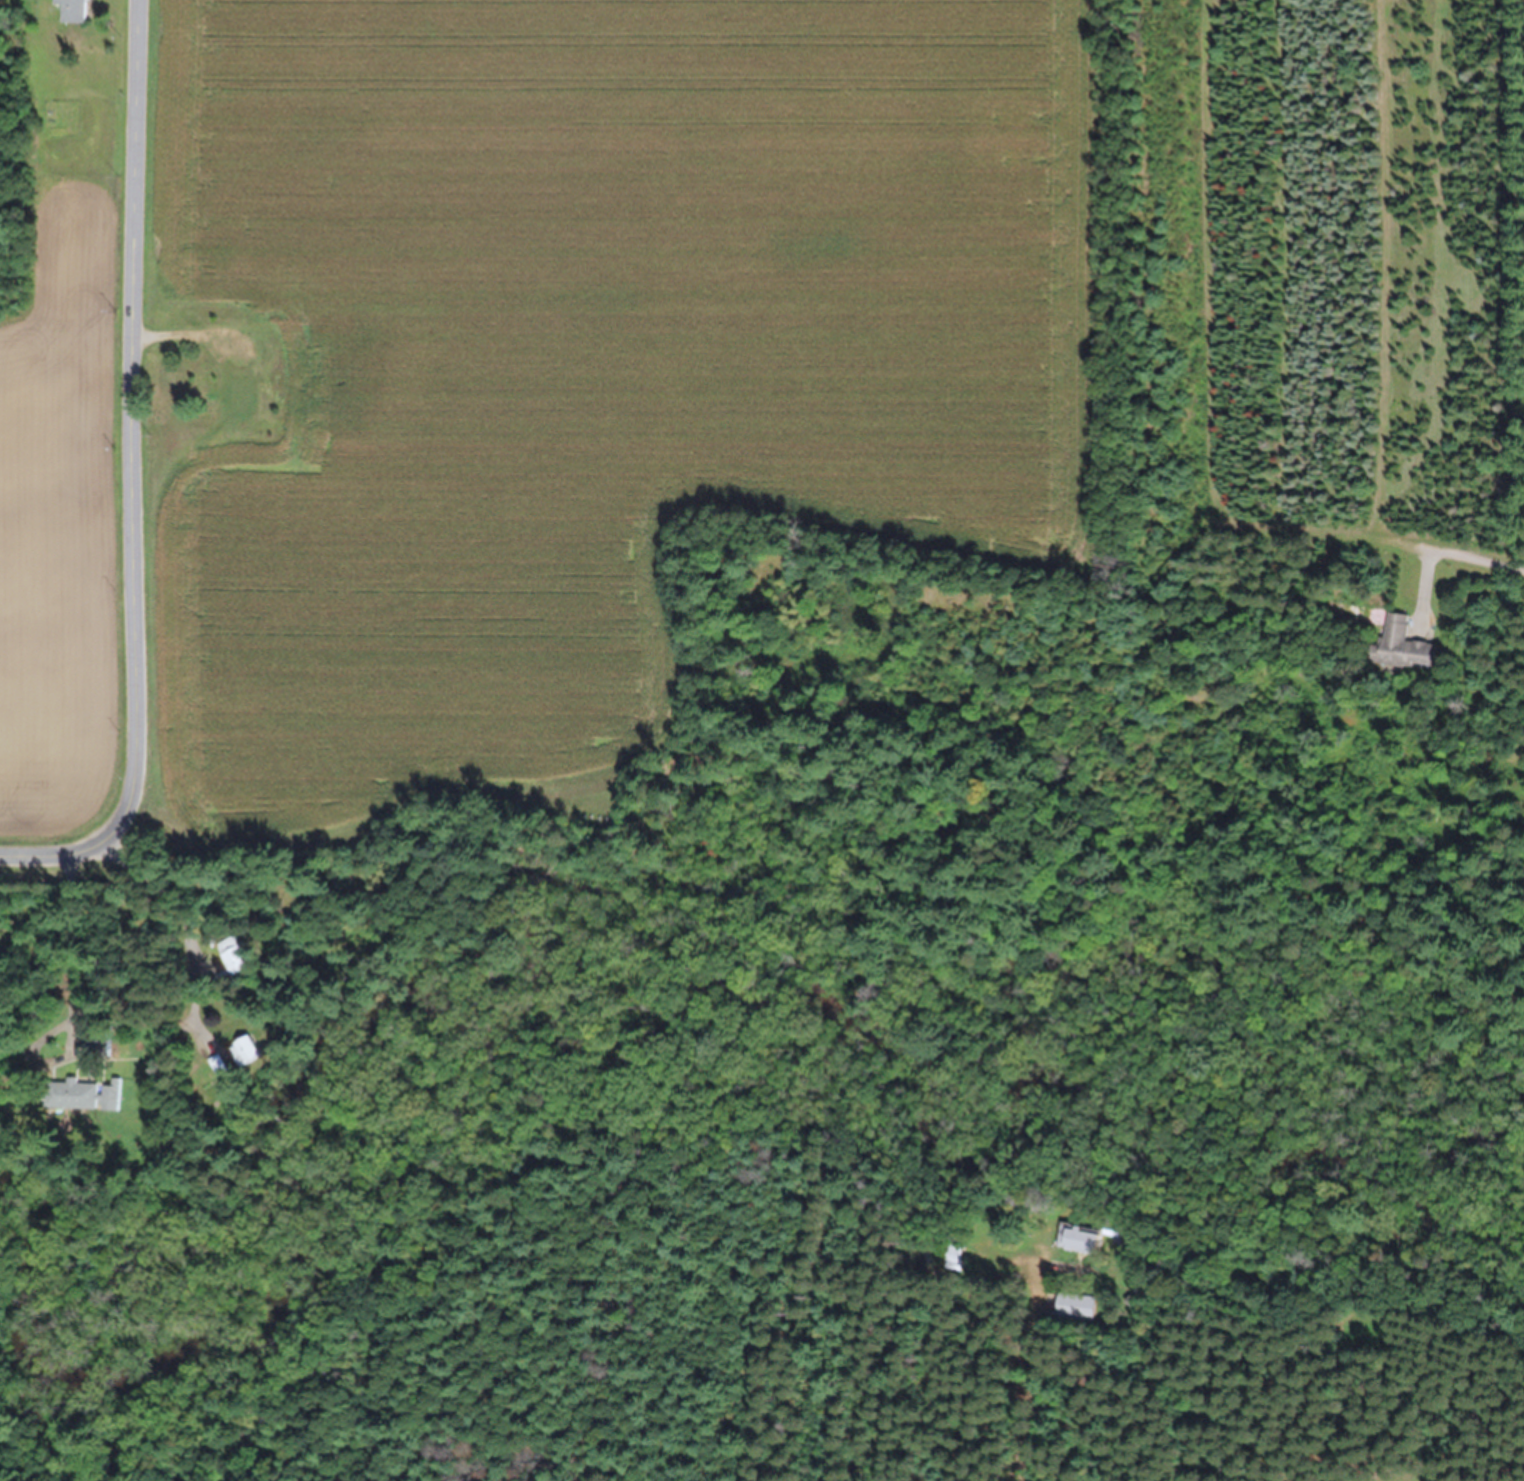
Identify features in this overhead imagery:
building: (77, 10)
building: (239, 399)
road: (139, 483)
building: (1406, 645)
road: (74, 945)
building: (235, 954)
building: (241, 983)
building: (103, 1037)
building: (249, 1049)
building: (213, 1066)
building: (222, 1074)
building: (86, 1093)
building: (65, 1124)
building: (1121, 1236)
building: (1082, 1238)
building: (956, 1251)
building: (1133, 1299)
building: (1078, 1305)

